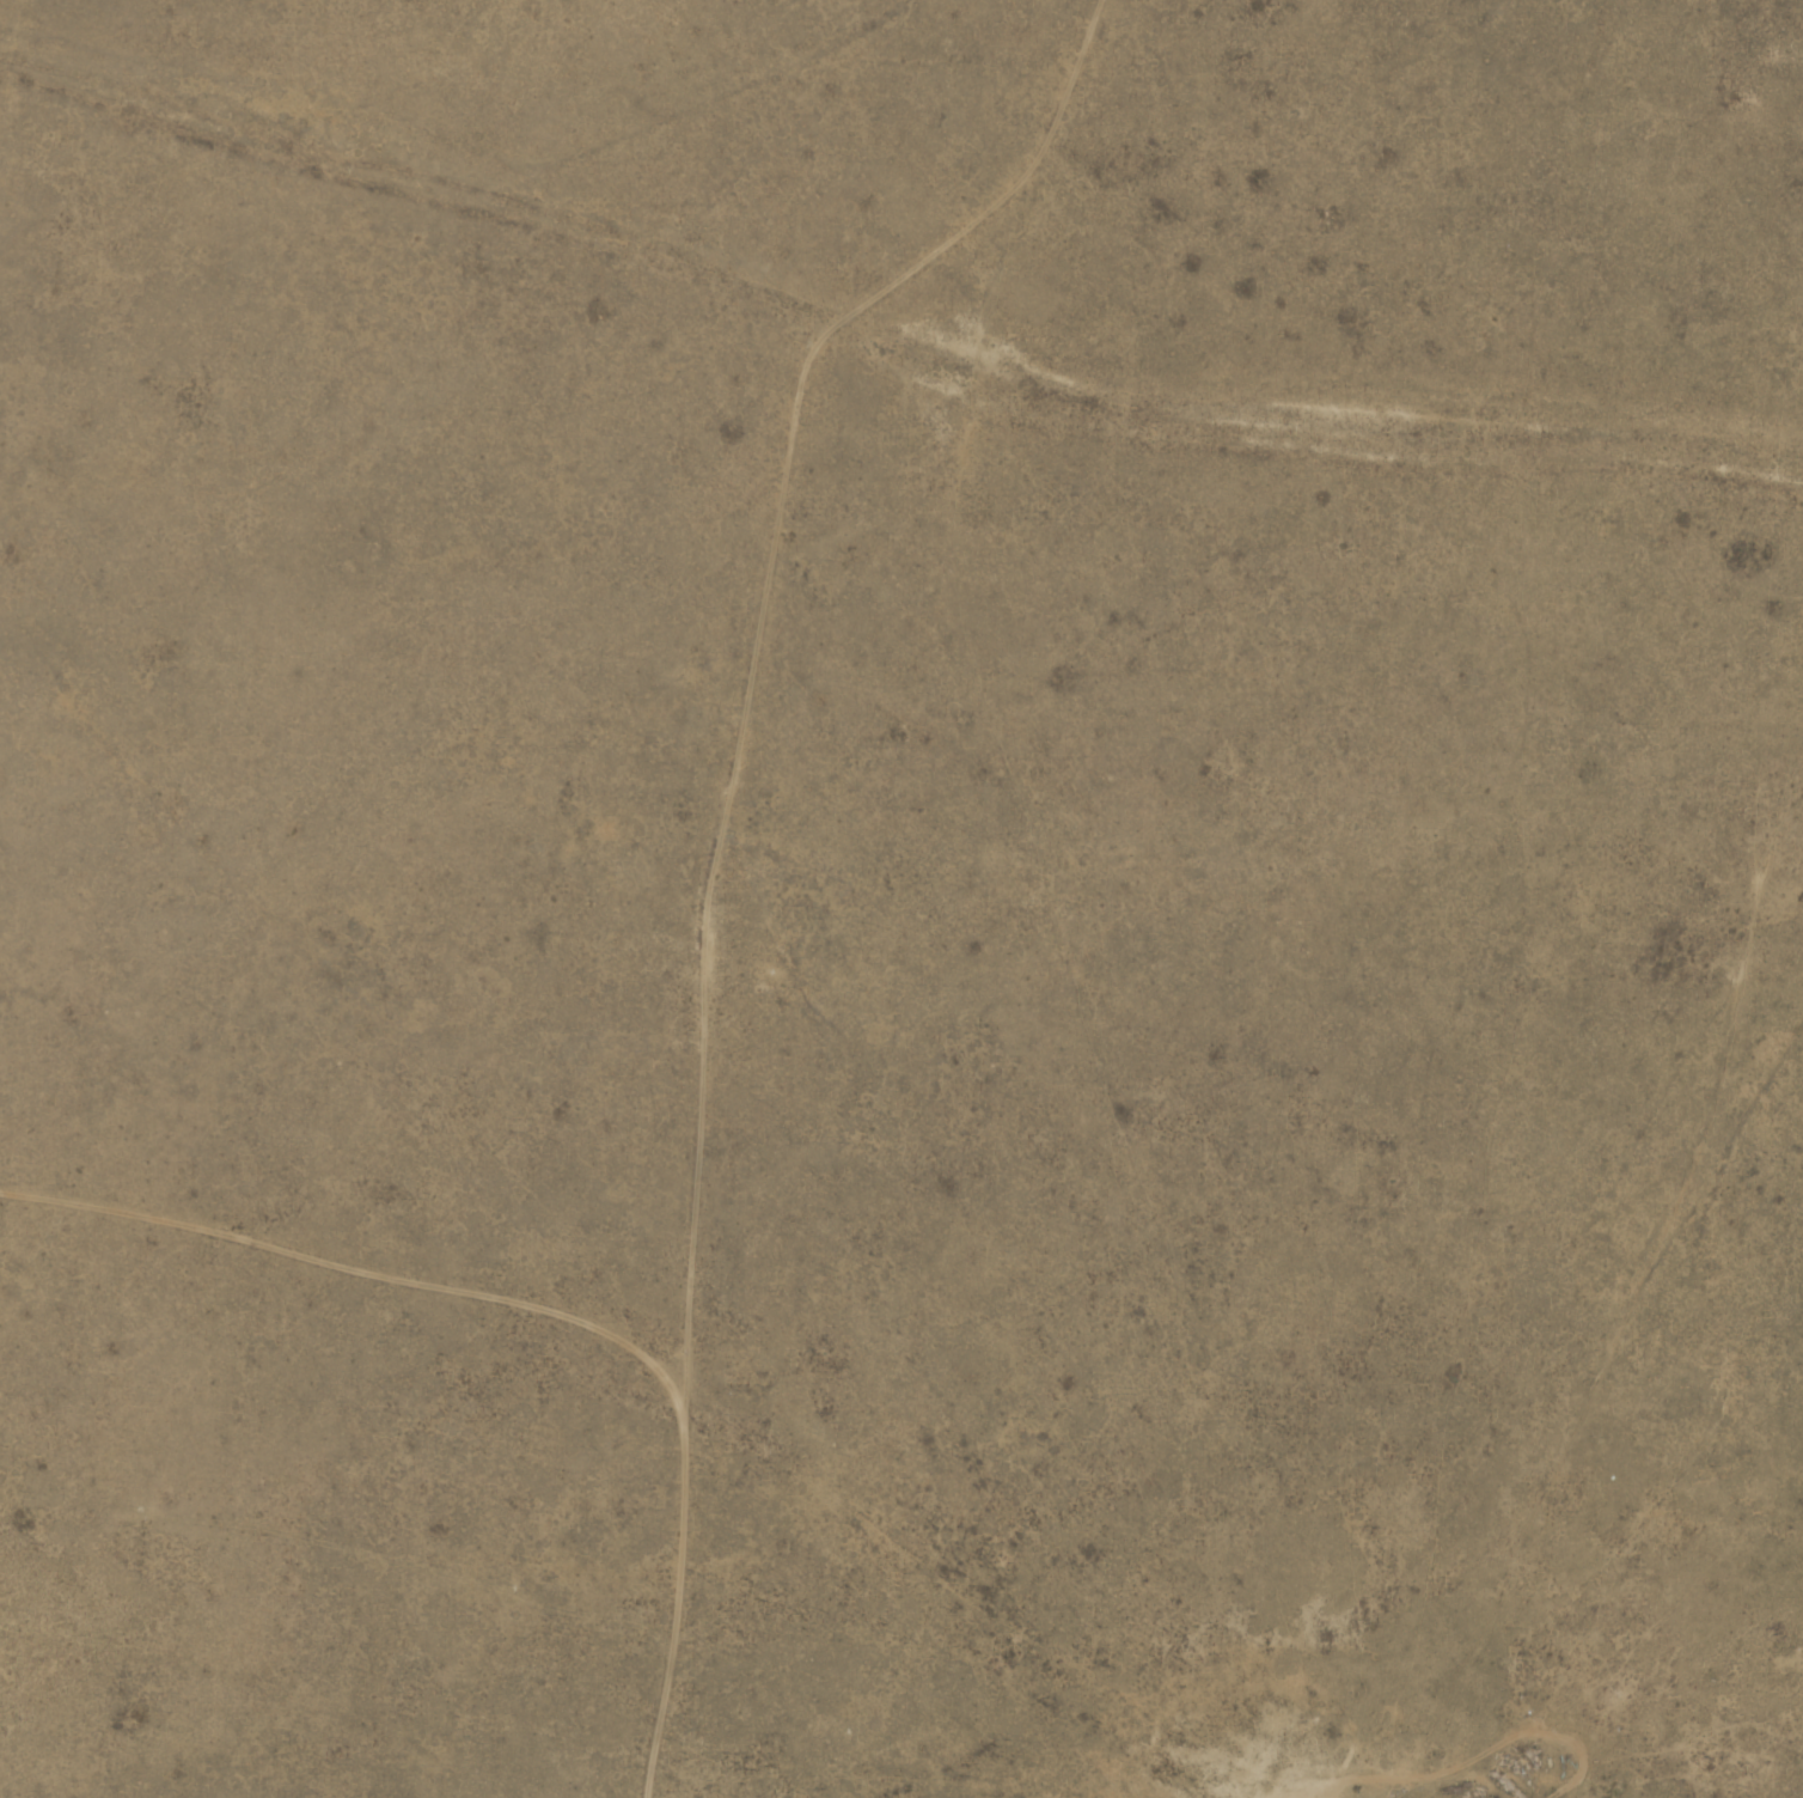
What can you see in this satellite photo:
road: (554, 1304)

